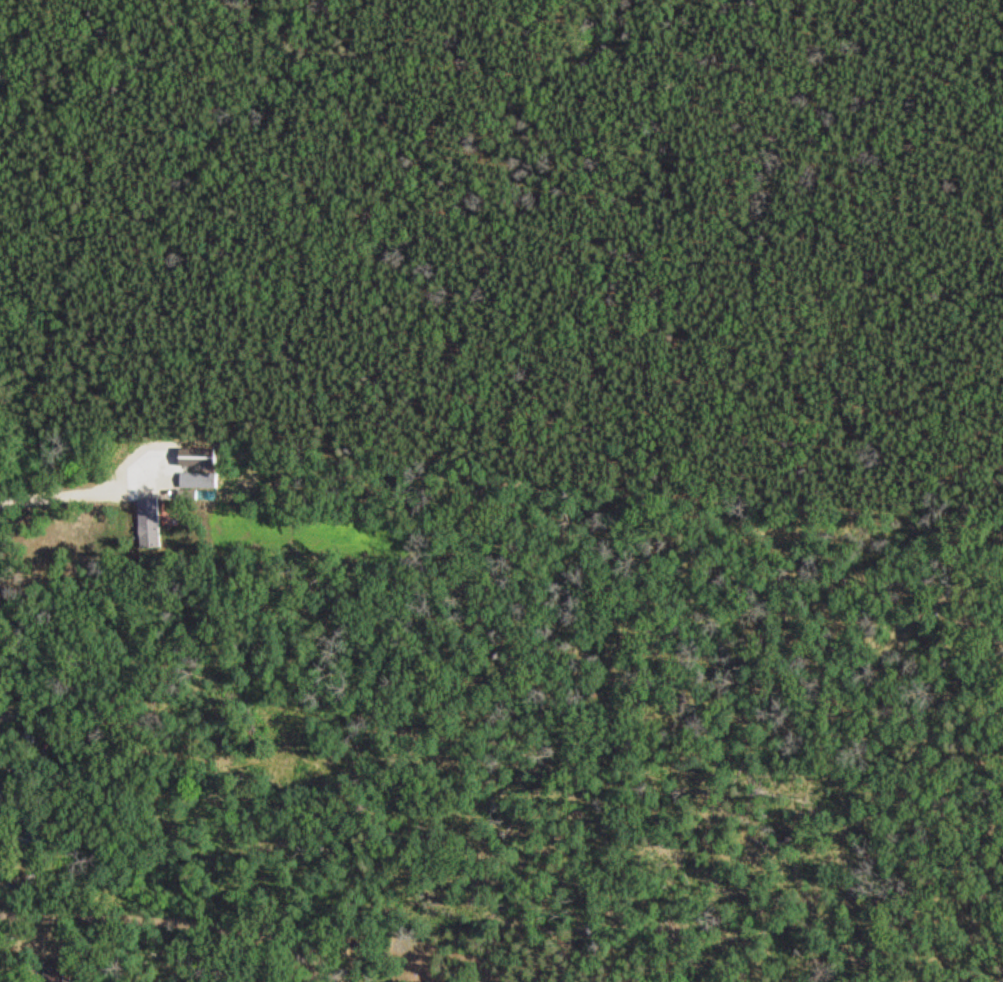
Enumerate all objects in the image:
building: (36, 827)

